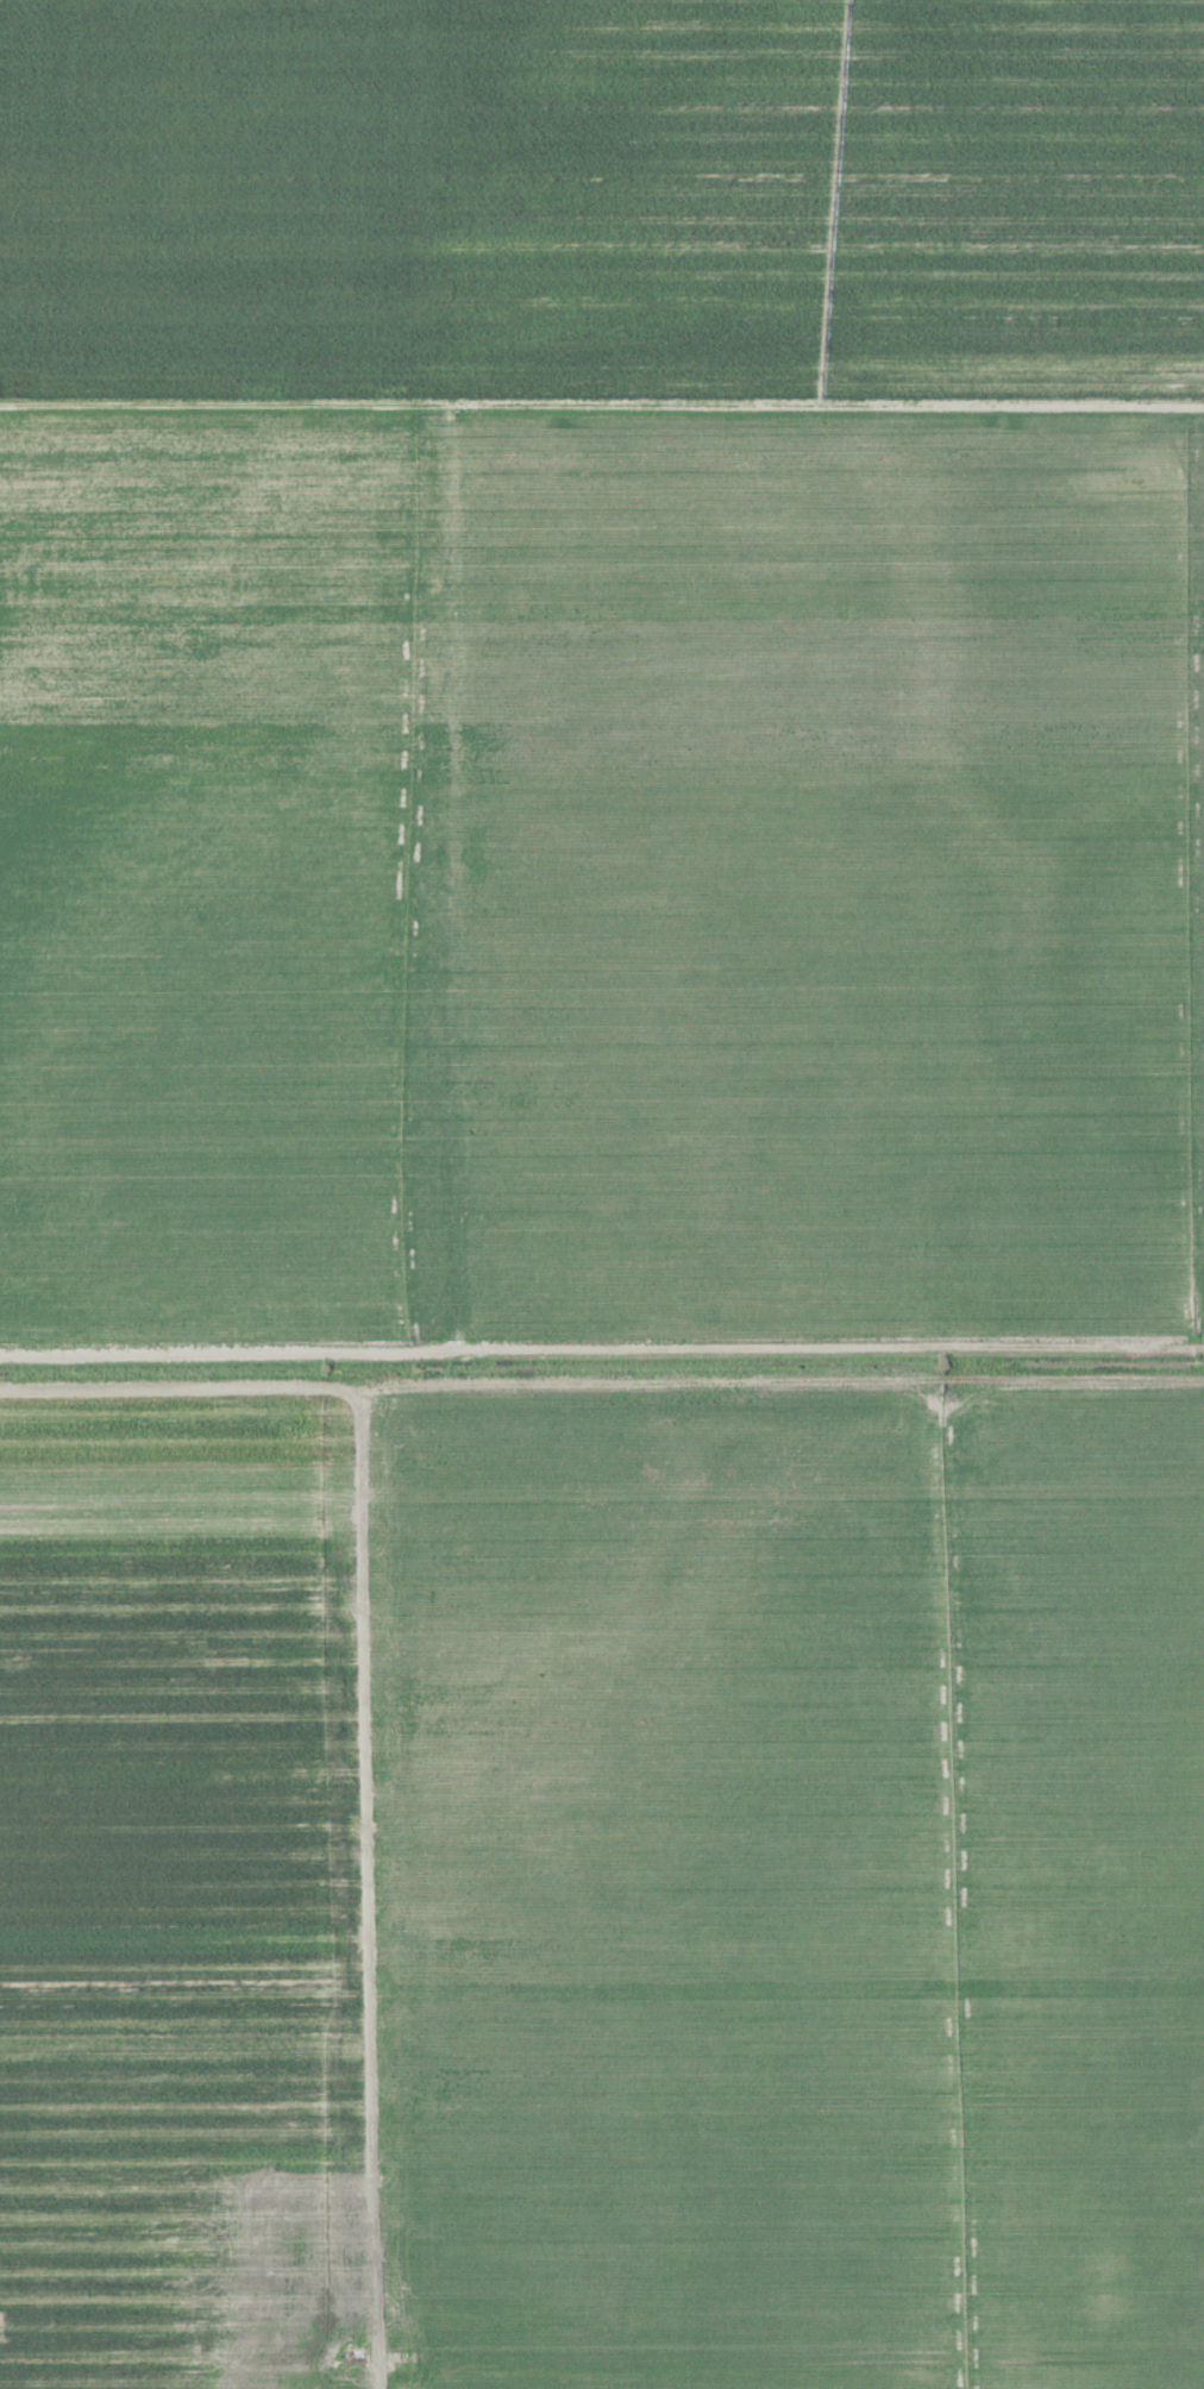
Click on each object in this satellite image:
road: (602, 410)

